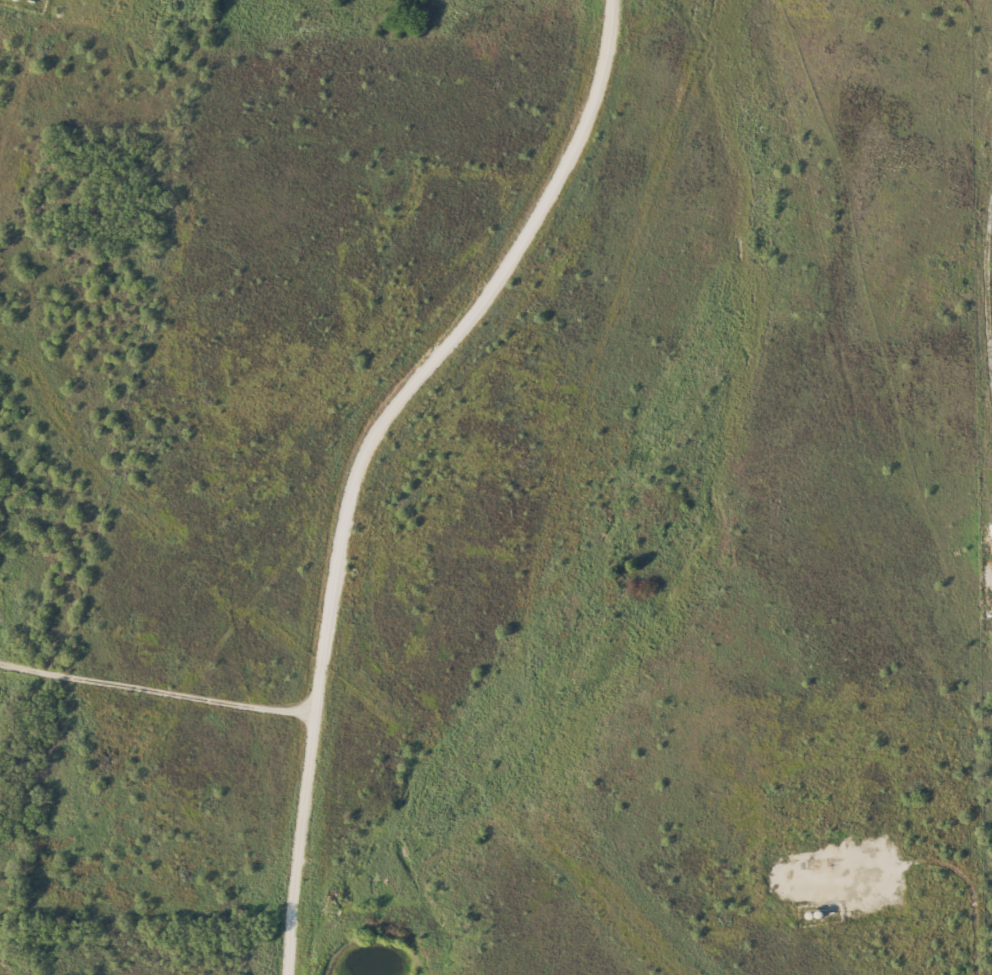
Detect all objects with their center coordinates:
road: (363, 449)
road: (158, 679)

